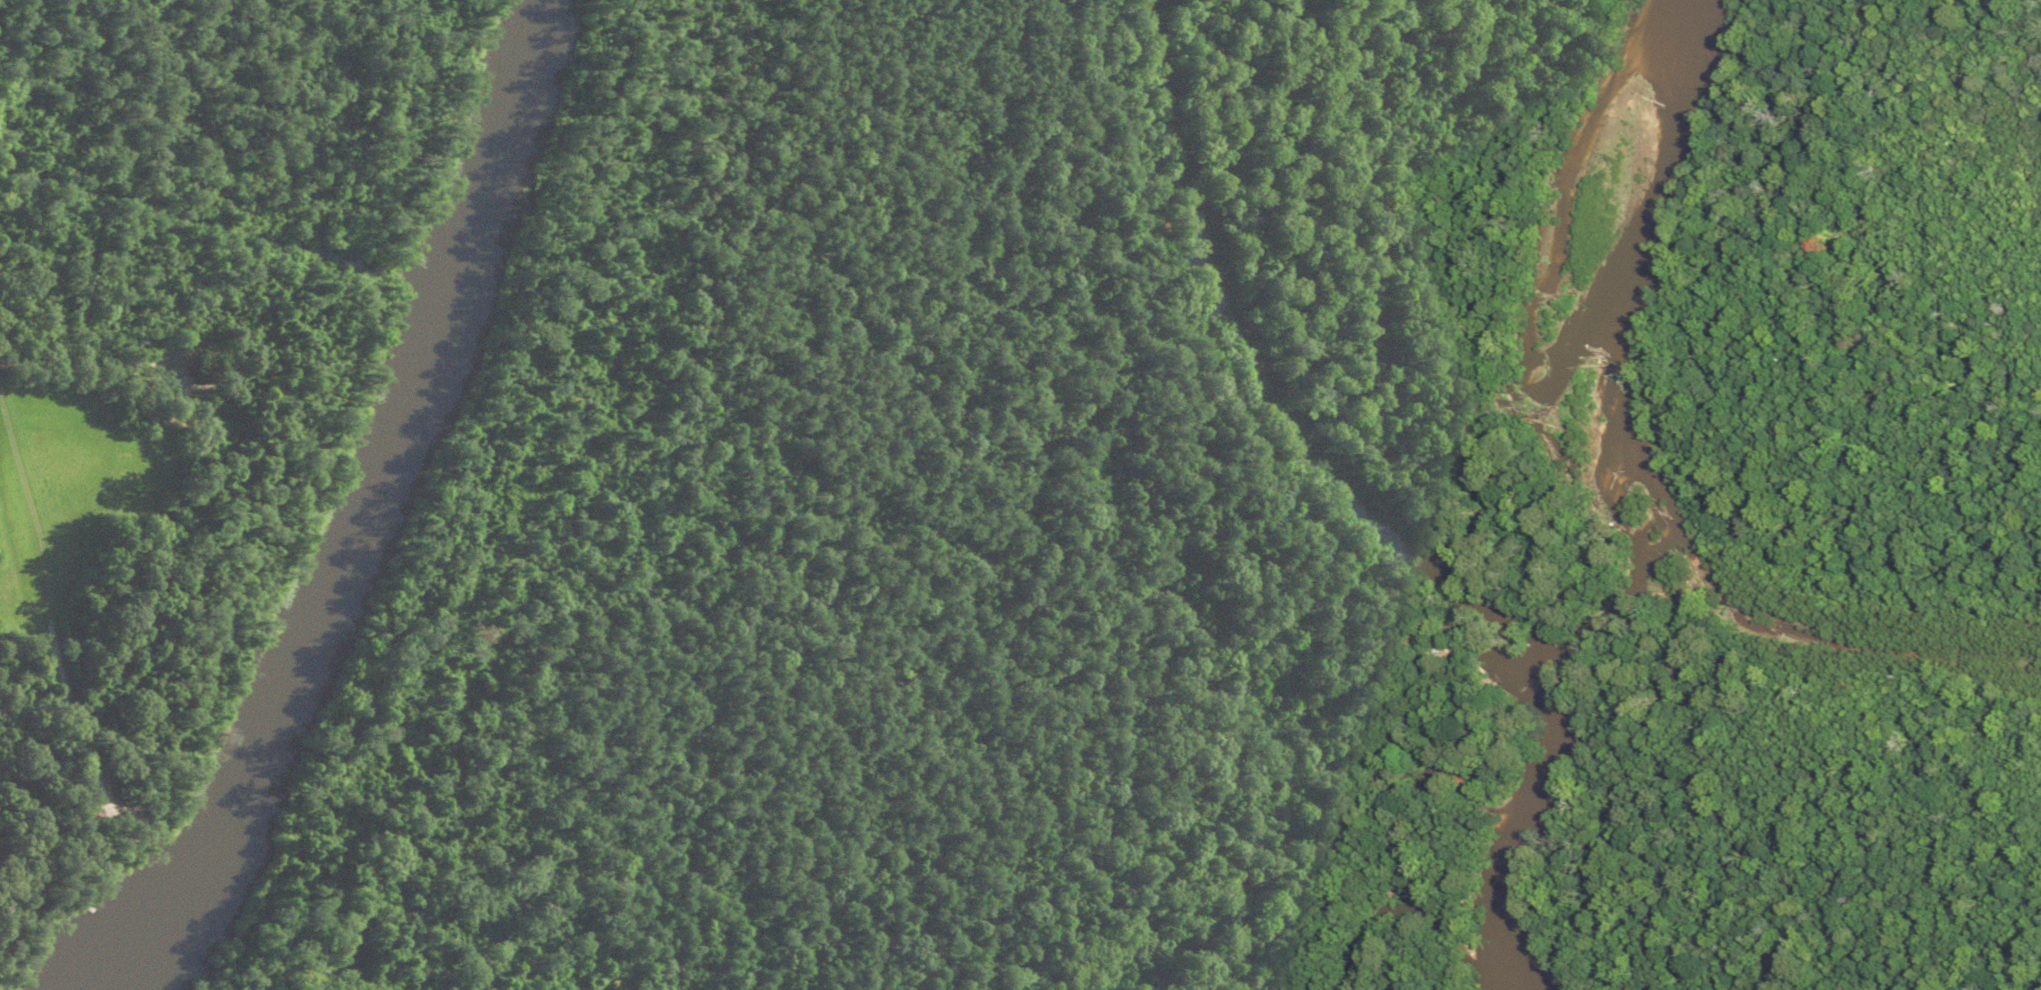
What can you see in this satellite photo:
park: (170, 381)

